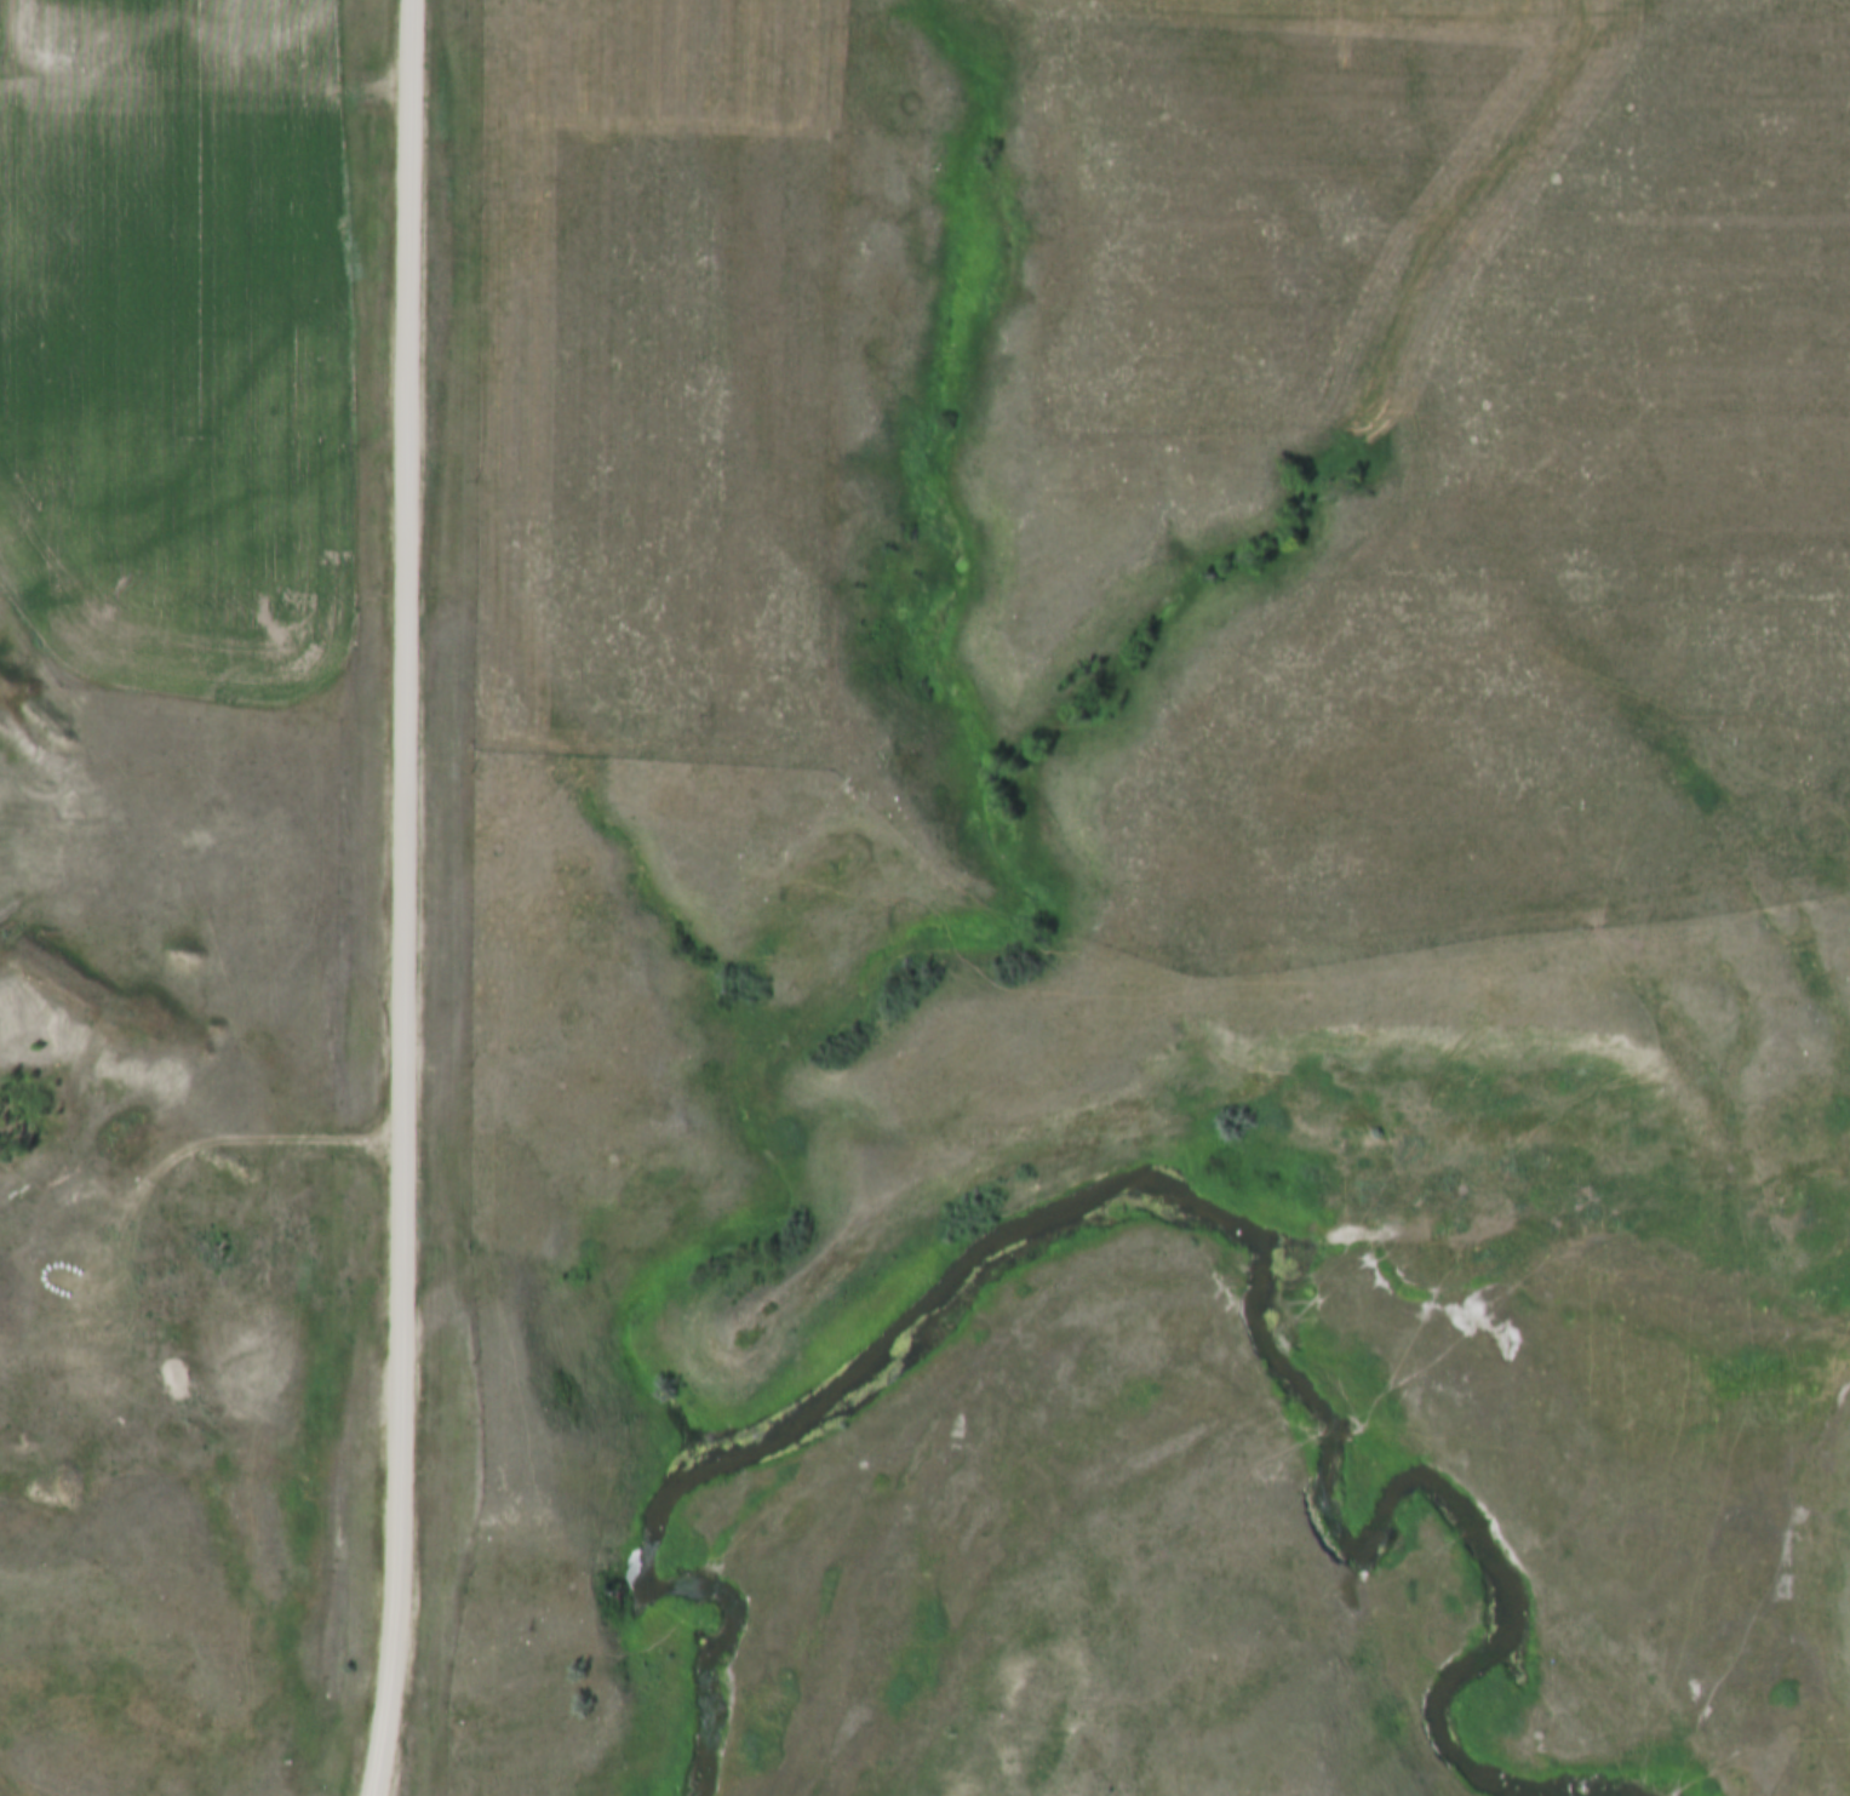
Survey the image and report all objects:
road: (407, 898)

